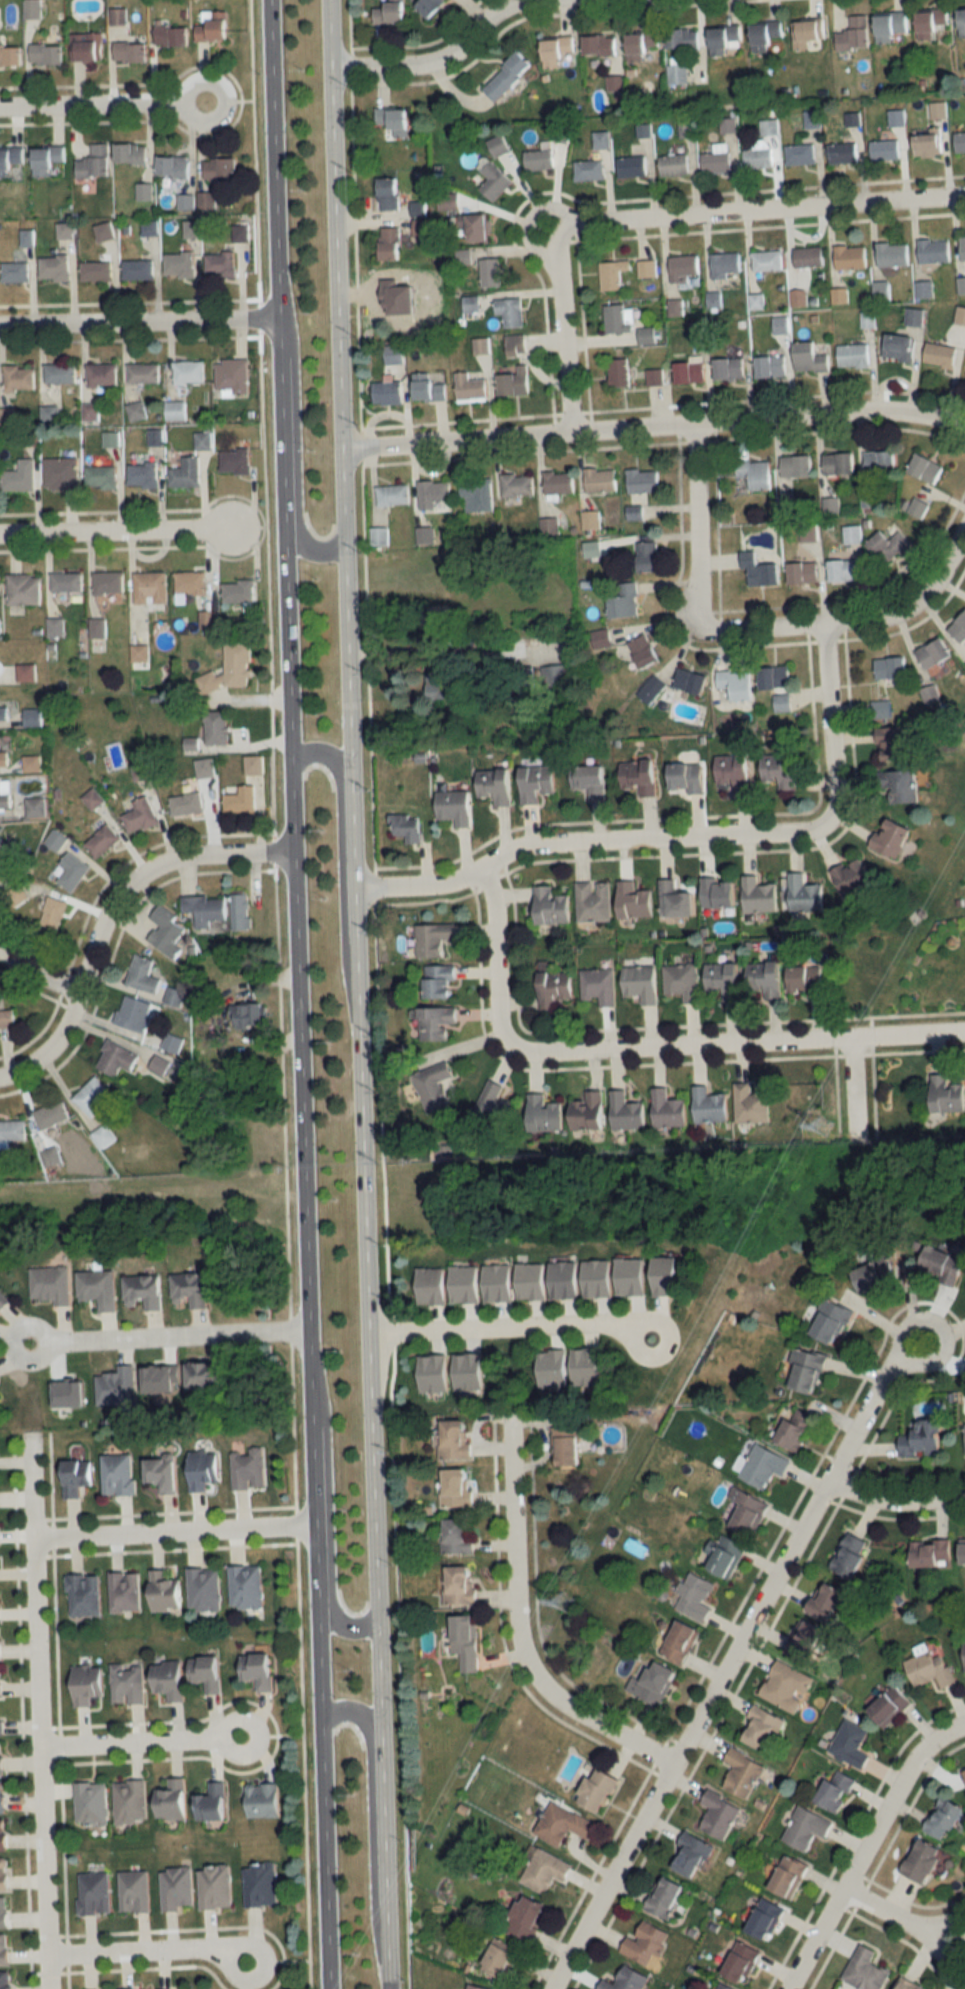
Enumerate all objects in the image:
building: (430, 5)
building: (392, 12)
building: (211, 22)
building: (960, 22)
building: (927, 23)
building: (886, 26)
building: (169, 32)
building: (768, 33)
building: (809, 34)
building: (852, 34)
building: (683, 39)
building: (723, 39)
building: (644, 43)
building: (600, 45)
building: (87, 47)
building: (130, 51)
building: (559, 52)
building: (11, 54)
building: (47, 54)
road: (445, 56)
building: (678, 74)
building: (508, 76)
road: (227, 94)
road: (93, 102)
building: (894, 118)
building: (396, 120)
building: (728, 125)
building: (769, 127)
building: (958, 143)
building: (924, 145)
building: (499, 146)
building: (884, 150)
building: (132, 153)
building: (843, 153)
building: (800, 154)
building: (758, 158)
building: (10, 159)
building: (48, 159)
building: (718, 159)
building: (540, 160)
building: (95, 162)
building: (675, 165)
building: (174, 166)
building: (633, 166)
building: (221, 168)
building: (589, 170)
building: (496, 181)
building: (145, 191)
building: (390, 193)
building: (207, 199)
building: (421, 208)
road: (773, 208)
road: (330, 224)
building: (422, 227)
building: (477, 227)
building: (150, 228)
building: (192, 228)
building: (65, 230)
building: (105, 231)
building: (392, 243)
building: (963, 248)
building: (934, 251)
building: (893, 254)
building: (464, 256)
building: (810, 257)
building: (851, 257)
building: (768, 261)
building: (221, 264)
road: (274, 264)
building: (180, 265)
building: (727, 265)
building: (55, 268)
building: (648, 268)
building: (686, 268)
building: (138, 269)
building: (97, 271)
building: (16, 272)
building: (492, 272)
building: (614, 274)
building: (840, 295)
building: (471, 304)
building: (511, 311)
building: (960, 315)
building: (915, 317)
building: (620, 318)
building: (868, 319)
road: (562, 322)
road: (138, 323)
building: (782, 325)
building: (648, 335)
building: (481, 345)
building: (515, 345)
building: (900, 347)
building: (854, 355)
building: (941, 355)
building: (811, 358)
building: (395, 359)
building: (772, 367)
building: (730, 368)
building: (189, 372)
building: (691, 372)
building: (144, 373)
building: (620, 373)
building: (61, 374)
building: (102, 375)
building: (233, 376)
building: (20, 379)
building: (517, 382)
building: (430, 388)
building: (471, 388)
building: (389, 392)
building: (176, 410)
building: (91, 411)
building: (137, 411)
building: (8, 417)
road: (652, 426)
building: (156, 437)
building: (111, 438)
road: (294, 449)
building: (236, 461)
building: (881, 461)
building: (840, 464)
building: (798, 466)
building: (927, 468)
building: (62, 473)
building: (144, 473)
building: (187, 473)
building: (757, 473)
building: (22, 476)
building: (102, 477)
building: (602, 480)
building: (643, 481)
building: (560, 482)
building: (518, 484)
building: (434, 493)
building: (478, 494)
building: (394, 495)
building: (870, 498)
building: (832, 505)
building: (918, 507)
building: (635, 513)
building: (592, 520)
building: (550, 526)
road: (115, 529)
road: (693, 532)
building: (426, 534)
building: (853, 535)
building: (380, 536)
building: (889, 545)
building: (592, 549)
building: (648, 557)
building: (845, 571)
building: (760, 572)
building: (804, 573)
building: (67, 582)
building: (192, 582)
building: (110, 587)
building: (151, 588)
building: (25, 589)
building: (239, 591)
building: (625, 602)
road: (864, 618)
building: (56, 627)
building: (98, 628)
building: (960, 629)
building: (602, 639)
road: (284, 647)
building: (645, 651)
building: (140, 653)
building: (935, 654)
building: (892, 668)
building: (233, 669)
road: (345, 669)
building: (27, 672)
building: (558, 677)
building: (775, 678)
building: (691, 681)
building: (737, 684)
building: (443, 685)
building: (653, 689)
building: (784, 703)
building: (4, 713)
building: (34, 717)
building: (218, 727)
road: (828, 733)
building: (895, 743)
building: (5, 758)
building: (33, 763)
building: (256, 764)
building: (206, 767)
building: (783, 769)
building: (736, 773)
building: (642, 776)
building: (689, 778)
building: (593, 780)
building: (538, 783)
building: (497, 785)
building: (901, 785)
building: (6, 793)
building: (94, 799)
building: (242, 800)
building: (188, 804)
building: (456, 807)
building: (37, 808)
building: (142, 816)
building: (407, 828)
building: (893, 840)
building: (104, 841)
road: (575, 844)
road: (340, 862)
building: (4, 865)
building: (74, 872)
building: (854, 878)
building: (721, 894)
building: (806, 895)
building: (761, 896)
building: (595, 901)
building: (636, 901)
building: (677, 901)
building: (553, 906)
building: (206, 910)
road: (106, 912)
building: (242, 912)
building: (54, 914)
building: (168, 932)
building: (434, 939)
road: (355, 955)
building: (144, 975)
road: (38, 976)
building: (768, 978)
building: (726, 980)
building: (809, 980)
building: (683, 981)
building: (441, 982)
building: (643, 984)
building: (600, 986)
building: (557, 988)
road: (376, 994)
building: (135, 1013)
building: (251, 1017)
building: (8, 1020)
building: (437, 1023)
road: (647, 1049)
building: (117, 1058)
building: (436, 1086)
road: (851, 1088)
building: (943, 1094)
building: (91, 1097)
building: (753, 1102)
building: (710, 1106)
building: (670, 1110)
building: (591, 1112)
building: (628, 1113)
building: (545, 1114)
building: (52, 1115)
power tower: (824, 1123)
building: (11, 1132)
building: (103, 1136)
building: (51, 1156)
building: (3, 1160)
building: (937, 1264)
building: (660, 1275)
building: (870, 1275)
building: (626, 1277)
building: (592, 1278)
building: (527, 1282)
building: (51, 1284)
building: (427, 1286)
building: (98, 1287)
building: (191, 1288)
building: (144, 1290)
building: (3, 1299)
building: (828, 1323)
road: (499, 1326)
road: (633, 1332)
road: (166, 1337)
building: (582, 1367)
building: (549, 1371)
building: (802, 1371)
building: (464, 1372)
building: (210, 1374)
building: (429, 1374)
road: (306, 1377)
building: (117, 1386)
building: (791, 1430)
building: (918, 1439)
building: (964, 1439)
building: (451, 1441)
building: (563, 1447)
building: (761, 1467)
building: (204, 1469)
building: (250, 1469)
building: (166, 1472)
building: (119, 1474)
building: (79, 1476)
building: (453, 1487)
road: (895, 1499)
road: (370, 1504)
road: (327, 1509)
building: (743, 1513)
road: (174, 1531)
building: (454, 1537)
building: (960, 1552)
building: (927, 1553)
building: (846, 1556)
building: (722, 1557)
building: (455, 1585)
building: (246, 1586)
building: (205, 1589)
road: (36, 1590)
building: (125, 1591)
building: (166, 1591)
building: (85, 1594)
building: (689, 1597)
building: (821, 1601)
power tower: (566, 1603)
building: (0, 1609)
road: (513, 1630)
building: (462, 1642)
building: (676, 1643)
building: (804, 1643)
building: (0, 1644)
road: (727, 1657)
building: (962, 1658)
building: (926, 1669)
building: (260, 1670)
building: (208, 1673)
building: (172, 1680)
building: (1, 1683)
building: (128, 1683)
building: (89, 1684)
building: (649, 1684)
building: (783, 1686)
building: (885, 1707)
building: (2, 1725)
building: (757, 1728)
road: (223, 1731)
road: (132, 1741)
building: (847, 1744)
building: (2, 1758)
building: (739, 1773)
building: (964, 1777)
building: (593, 1791)
building: (831, 1791)
building: (2, 1797)
building: (173, 1799)
building: (264, 1799)
building: (130, 1801)
building: (214, 1802)
building: (91, 1803)
road: (369, 1814)
building: (716, 1815)
building: (939, 1819)
building: (560, 1825)
building: (802, 1829)
building: (3, 1835)
road: (863, 1845)
building: (687, 1856)
building: (917, 1862)
road: (45, 1866)
building: (541, 1871)
building: (4, 1874)
building: (784, 1878)
building: (261, 1884)
building: (216, 1886)
building: (177, 1888)
building: (135, 1891)
building: (95, 1893)
building: (660, 1898)
building: (3, 1912)
road: (896, 1915)
building: (521, 1918)
building: (761, 1921)
building: (642, 1944)
road: (140, 1949)
building: (4, 1950)
road: (231, 1957)
building: (737, 1963)
building: (861, 1970)
building: (6, 1980)
building: (623, 1980)
building: (903, 1985)
building: (470, 1987)
building: (718, 1987)
building: (149, 1988)

